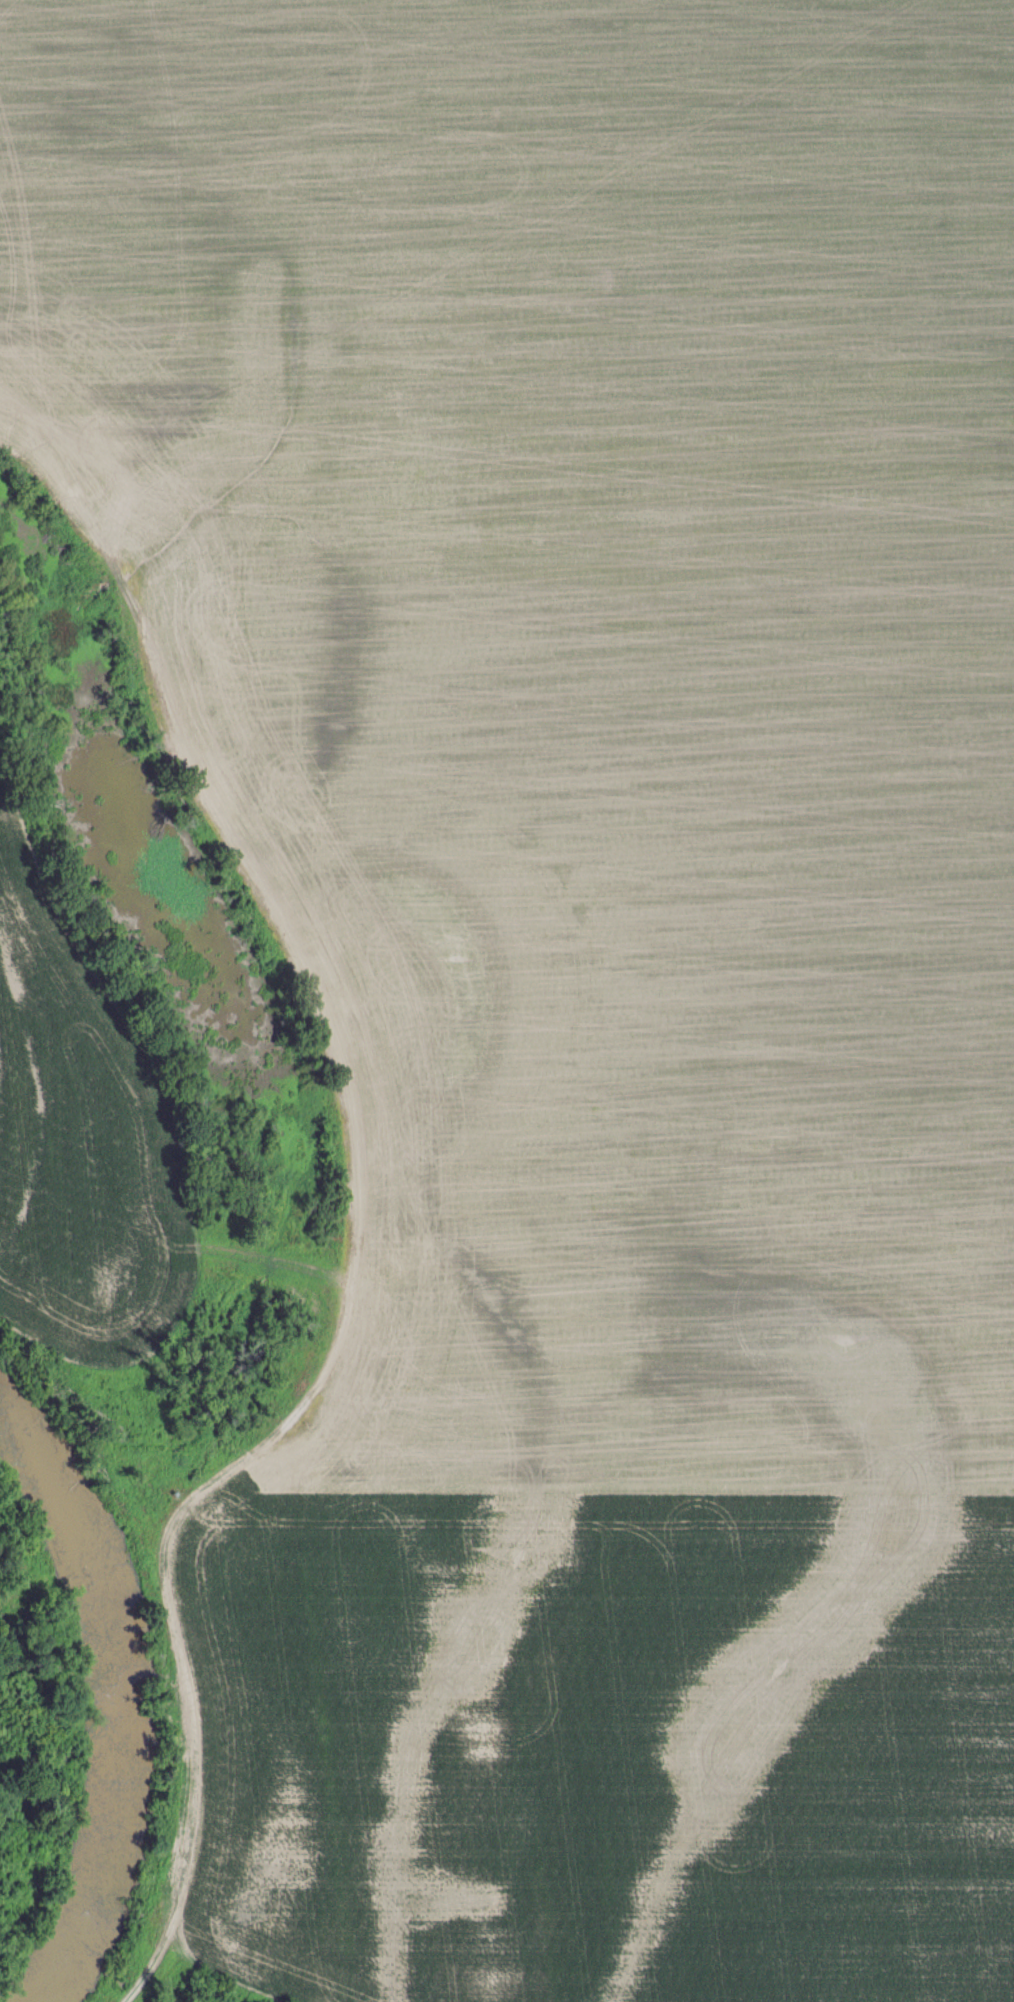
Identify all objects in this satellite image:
crop: (587, 943)

